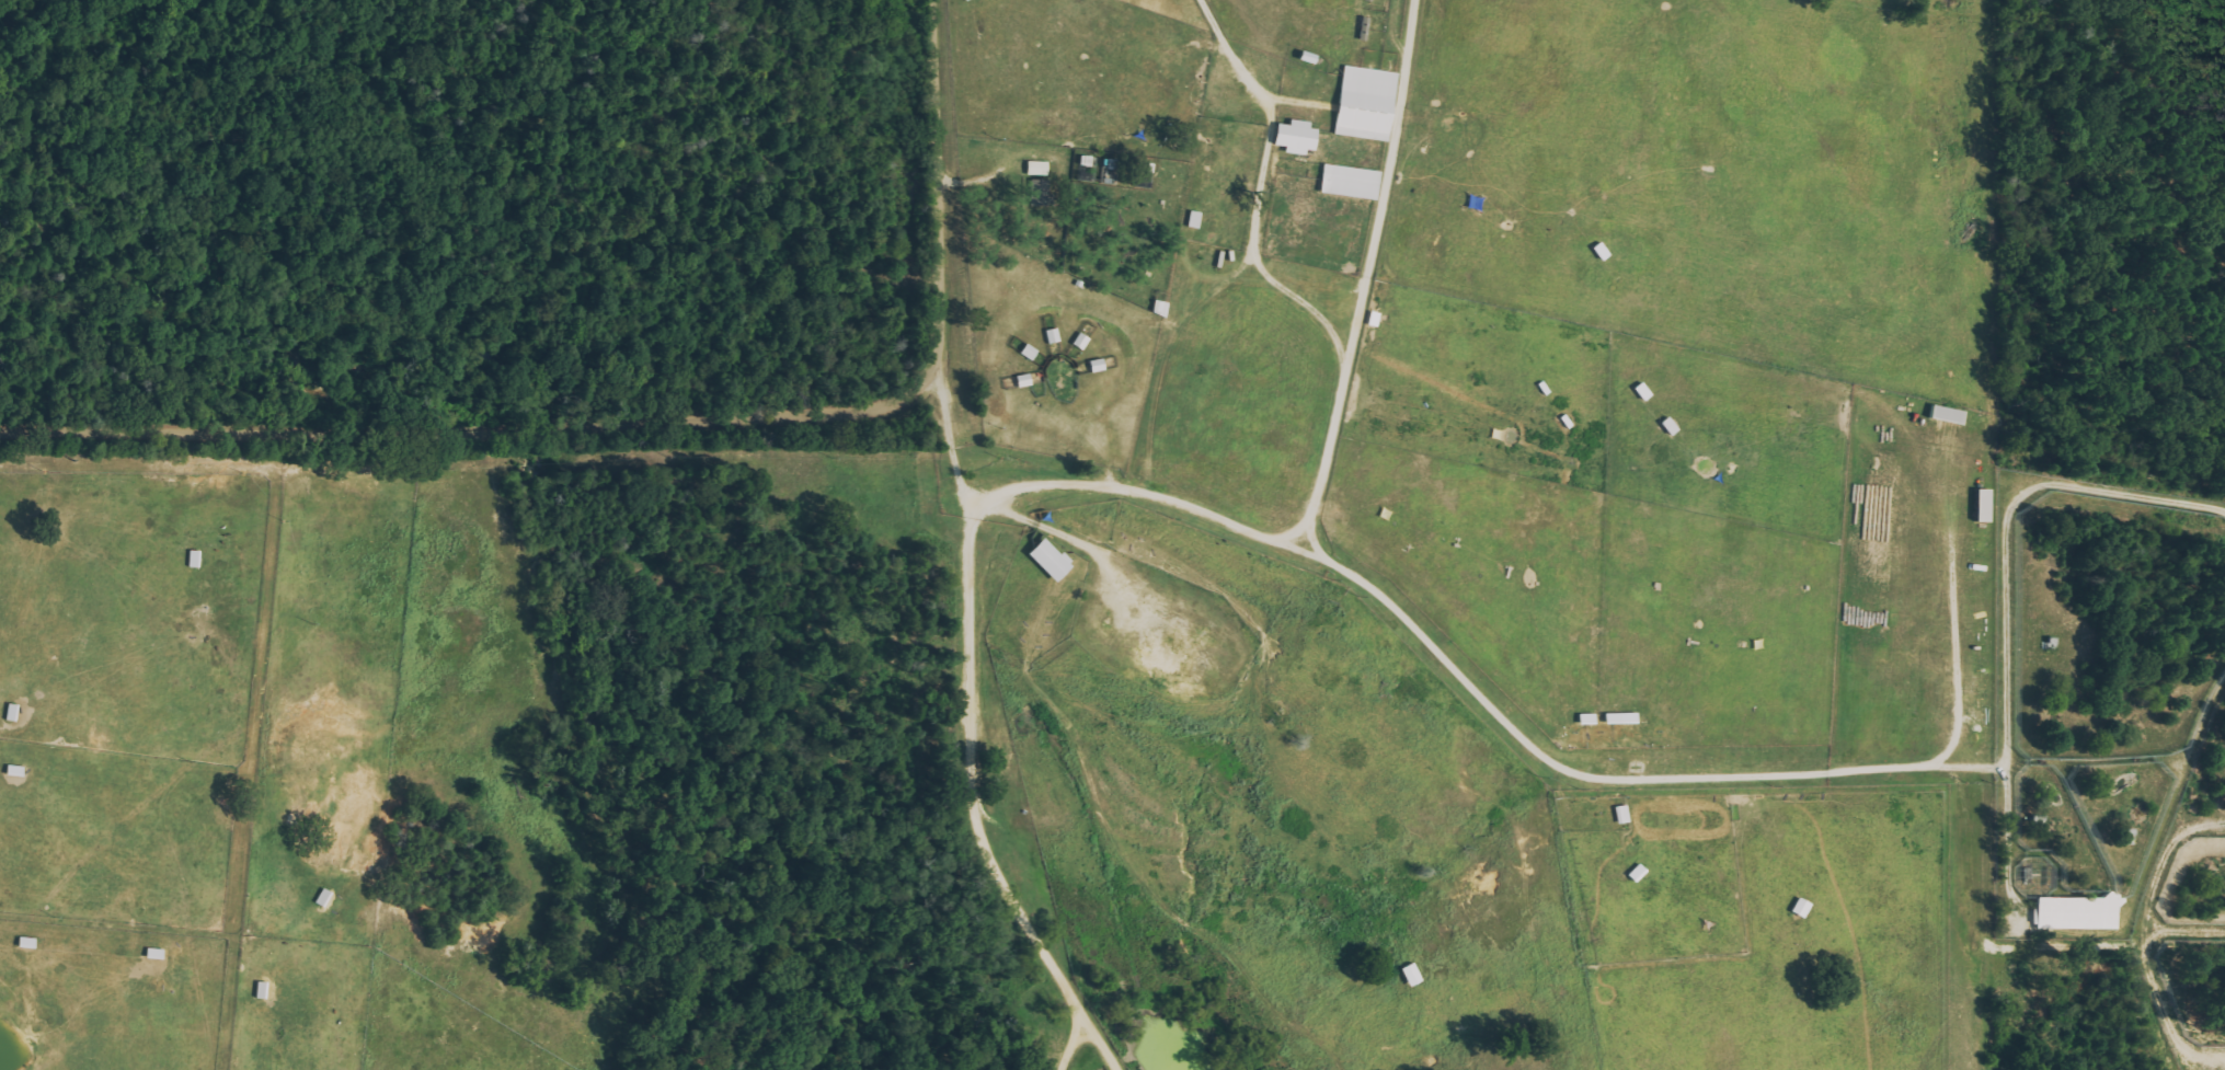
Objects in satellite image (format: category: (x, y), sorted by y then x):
building: (1362, 30)
building: (1363, 104)
building: (1292, 138)
building: (1081, 161)
building: (1035, 169)
building: (1347, 182)
building: (1191, 220)
building: (1598, 252)
building: (1157, 309)
building: (1372, 320)
building: (1051, 336)
building: (1078, 342)
building: (1025, 353)
building: (1093, 366)
building: (1020, 381)
building: (1640, 392)
building: (1943, 415)
road: (658, 416)
building: (1667, 427)
road: (1329, 450)
building: (1980, 506)
building: (191, 560)
building: (1045, 560)
building: (9, 714)
building: (1618, 718)
building: (1584, 720)
road: (966, 734)
building: (11, 771)
building: (1620, 815)
building: (2129, 837)
building: (1633, 873)
building: (320, 898)
building: (1798, 908)
building: (2073, 912)
building: (1409, 975)
building: (259, 990)

